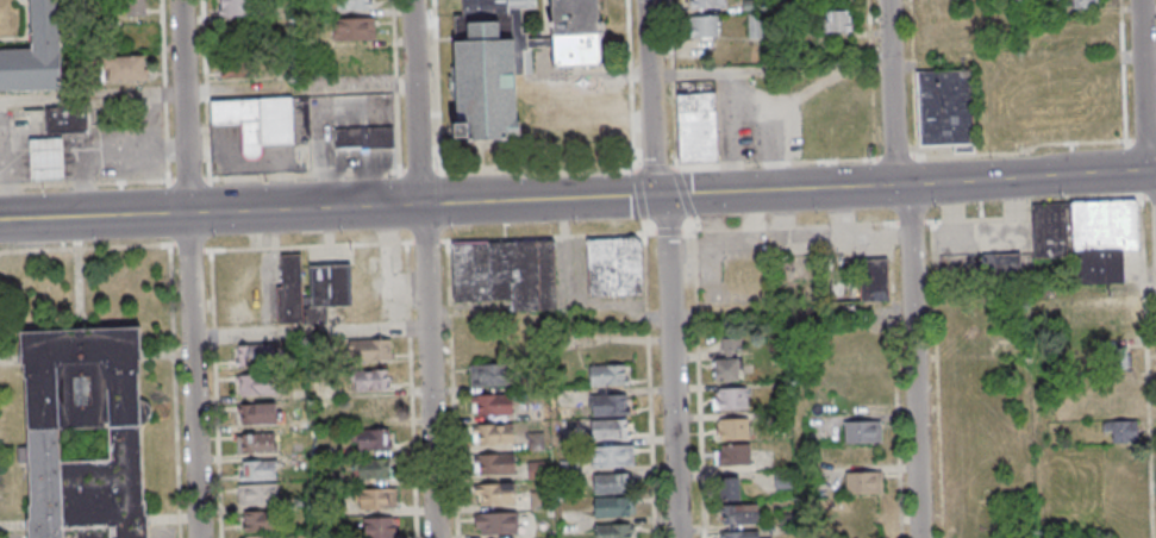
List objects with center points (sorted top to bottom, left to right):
building: (707, 4)
building: (1082, 4)
building: (355, 5)
building: (131, 7)
building: (235, 8)
building: (838, 20)
building: (702, 27)
building: (352, 29)
building: (576, 33)
road: (774, 36)
road: (69, 49)
building: (36, 55)
road: (1151, 55)
building: (490, 68)
building: (124, 69)
building: (238, 70)
road: (774, 71)
road: (1125, 86)
road: (210, 92)
road: (1148, 94)
building: (945, 108)
building: (576, 114)
building: (68, 119)
building: (257, 121)
building: (698, 127)
building: (364, 137)
road: (101, 145)
building: (48, 156)
road: (945, 157)
road: (5, 170)
road: (85, 182)
traffic signals: (658, 195)
road: (577, 198)
road: (711, 230)
building: (1087, 233)
building: (954, 239)
road: (171, 251)
building: (1001, 264)
road: (450, 265)
building: (614, 265)
road: (429, 268)
road: (673, 268)
road: (914, 268)
road: (193, 269)
building: (506, 273)
building: (874, 280)
building: (312, 290)
road: (1036, 294)
building: (1120, 307)
road: (435, 329)
building: (370, 350)
building: (258, 355)
building: (1112, 358)
building: (729, 362)
building: (496, 374)
building: (611, 376)
building: (369, 381)
building: (260, 383)
road: (651, 386)
building: (731, 399)
building: (496, 405)
building: (614, 405)
building: (371, 411)
building: (260, 413)
building: (732, 428)
building: (614, 430)
building: (1121, 430)
building: (862, 431)
road: (415, 433)
building: (498, 433)
building: (369, 440)
building: (258, 444)
building: (43, 445)
building: (614, 455)
building: (733, 455)
building: (498, 463)
building: (371, 469)
building: (257, 470)
building: (782, 480)
building: (863, 482)
building: (614, 483)
building: (732, 488)
building: (257, 494)
building: (500, 494)
building: (376, 498)
building: (613, 508)
building: (743, 514)
building: (262, 521)
building: (501, 523)
building: (377, 527)
building: (616, 530)
building: (744, 533)
building: (263, 536)

